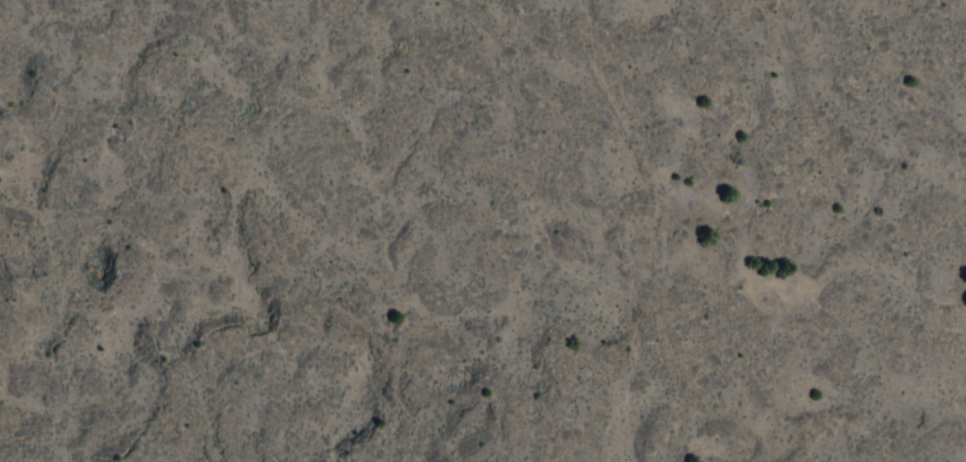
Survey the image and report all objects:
road: (664, 224)

